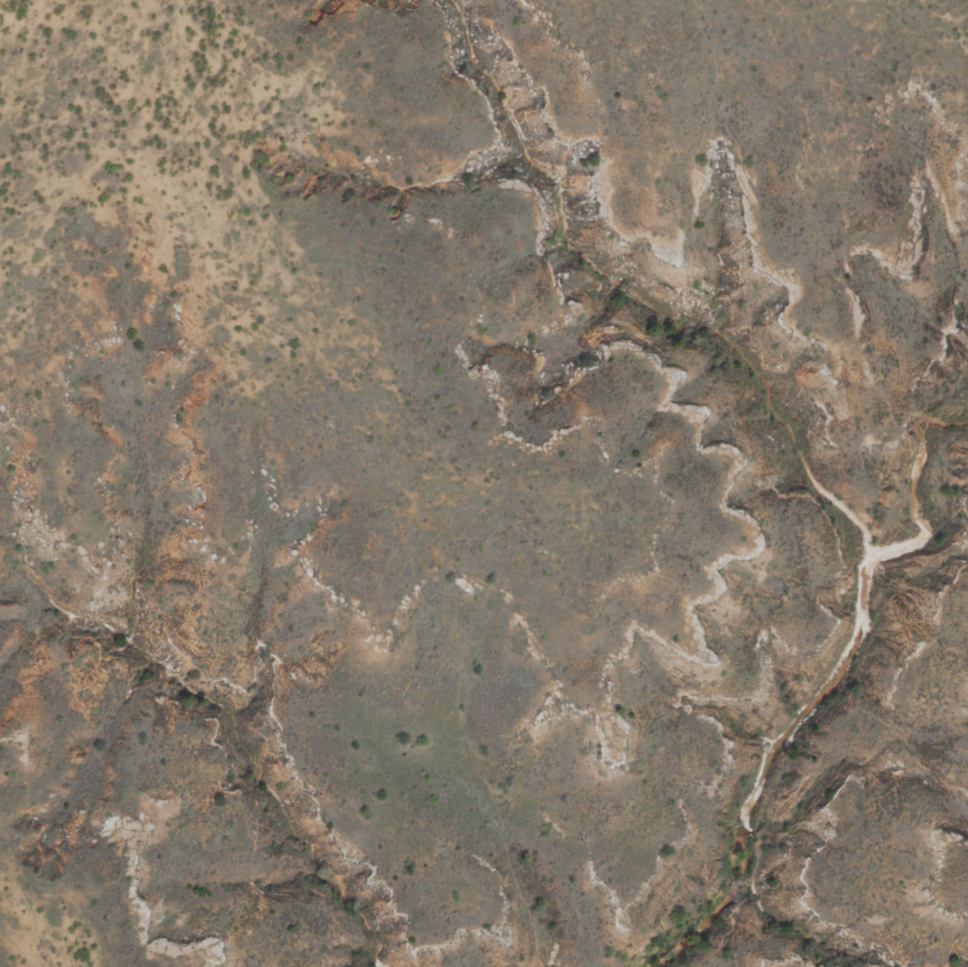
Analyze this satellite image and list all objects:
road: (20, 942)

